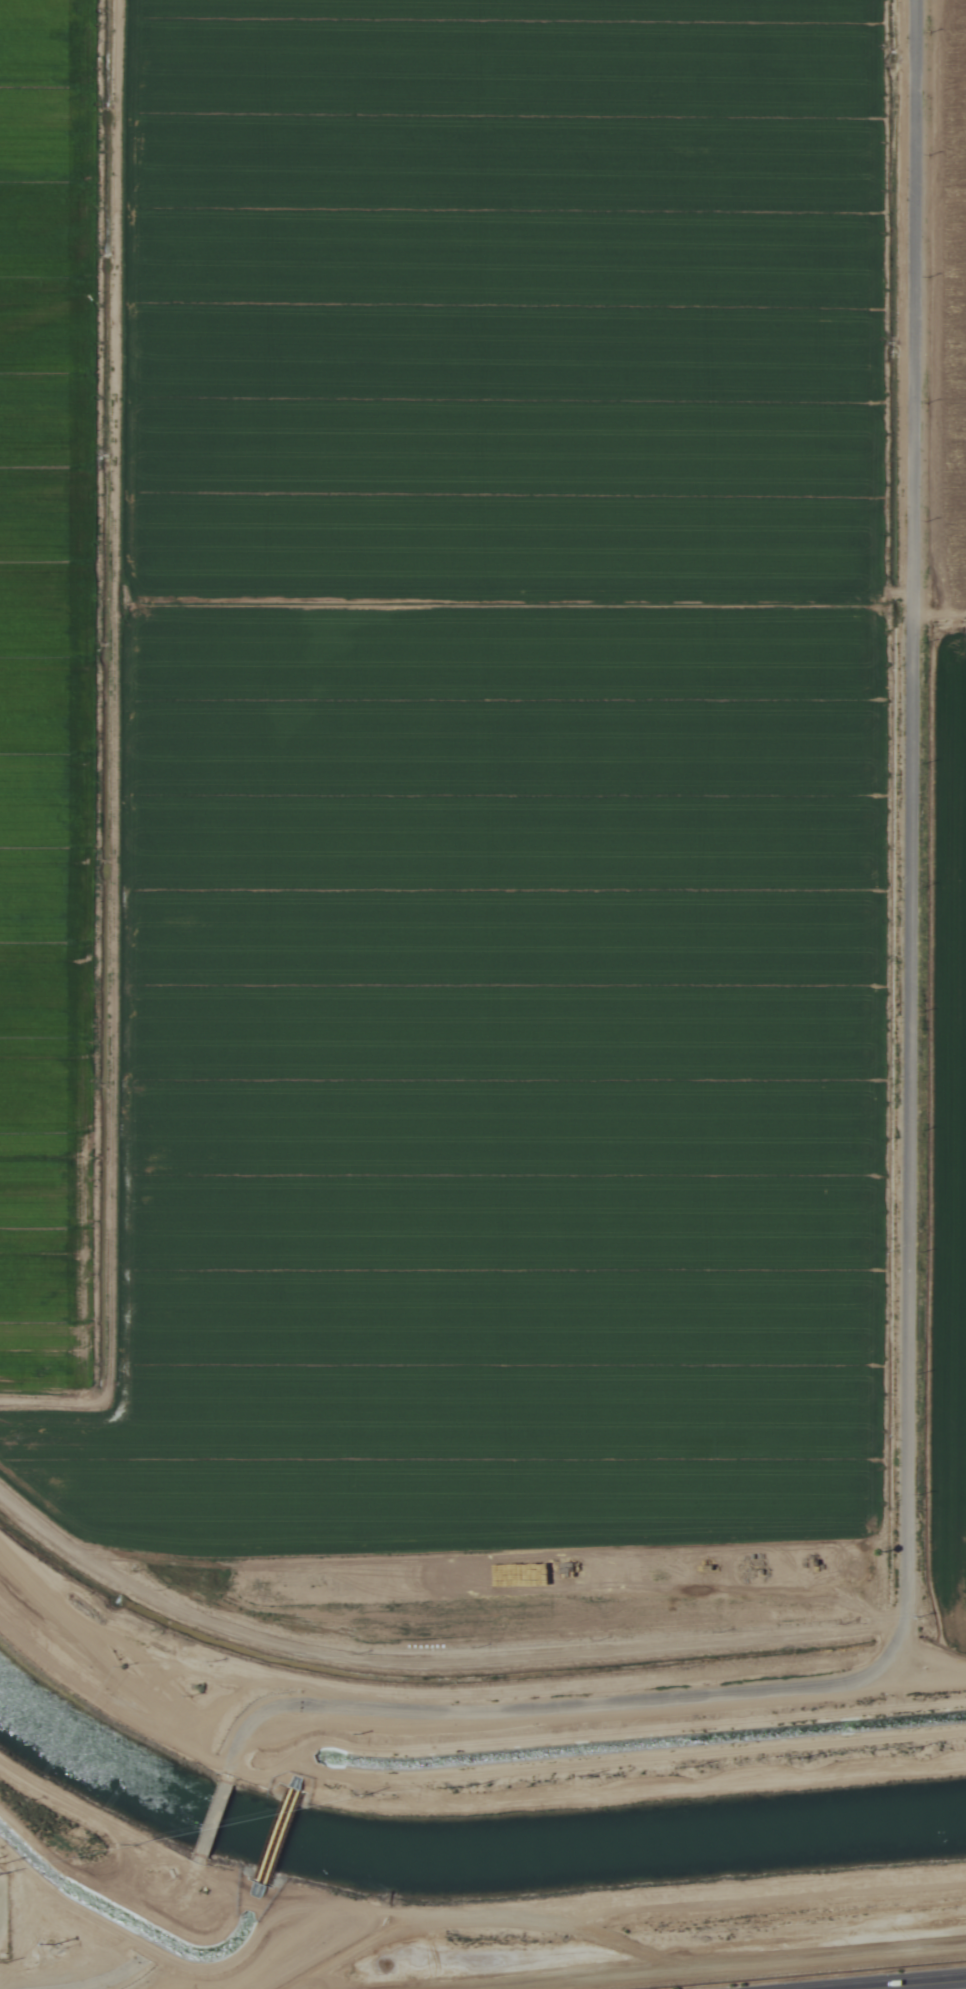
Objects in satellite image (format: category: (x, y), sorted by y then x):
road: (911, 865)
road: (508, 1708)
road: (601, 1729)
road: (212, 1820)
road: (140, 1956)
road: (867, 1982)

